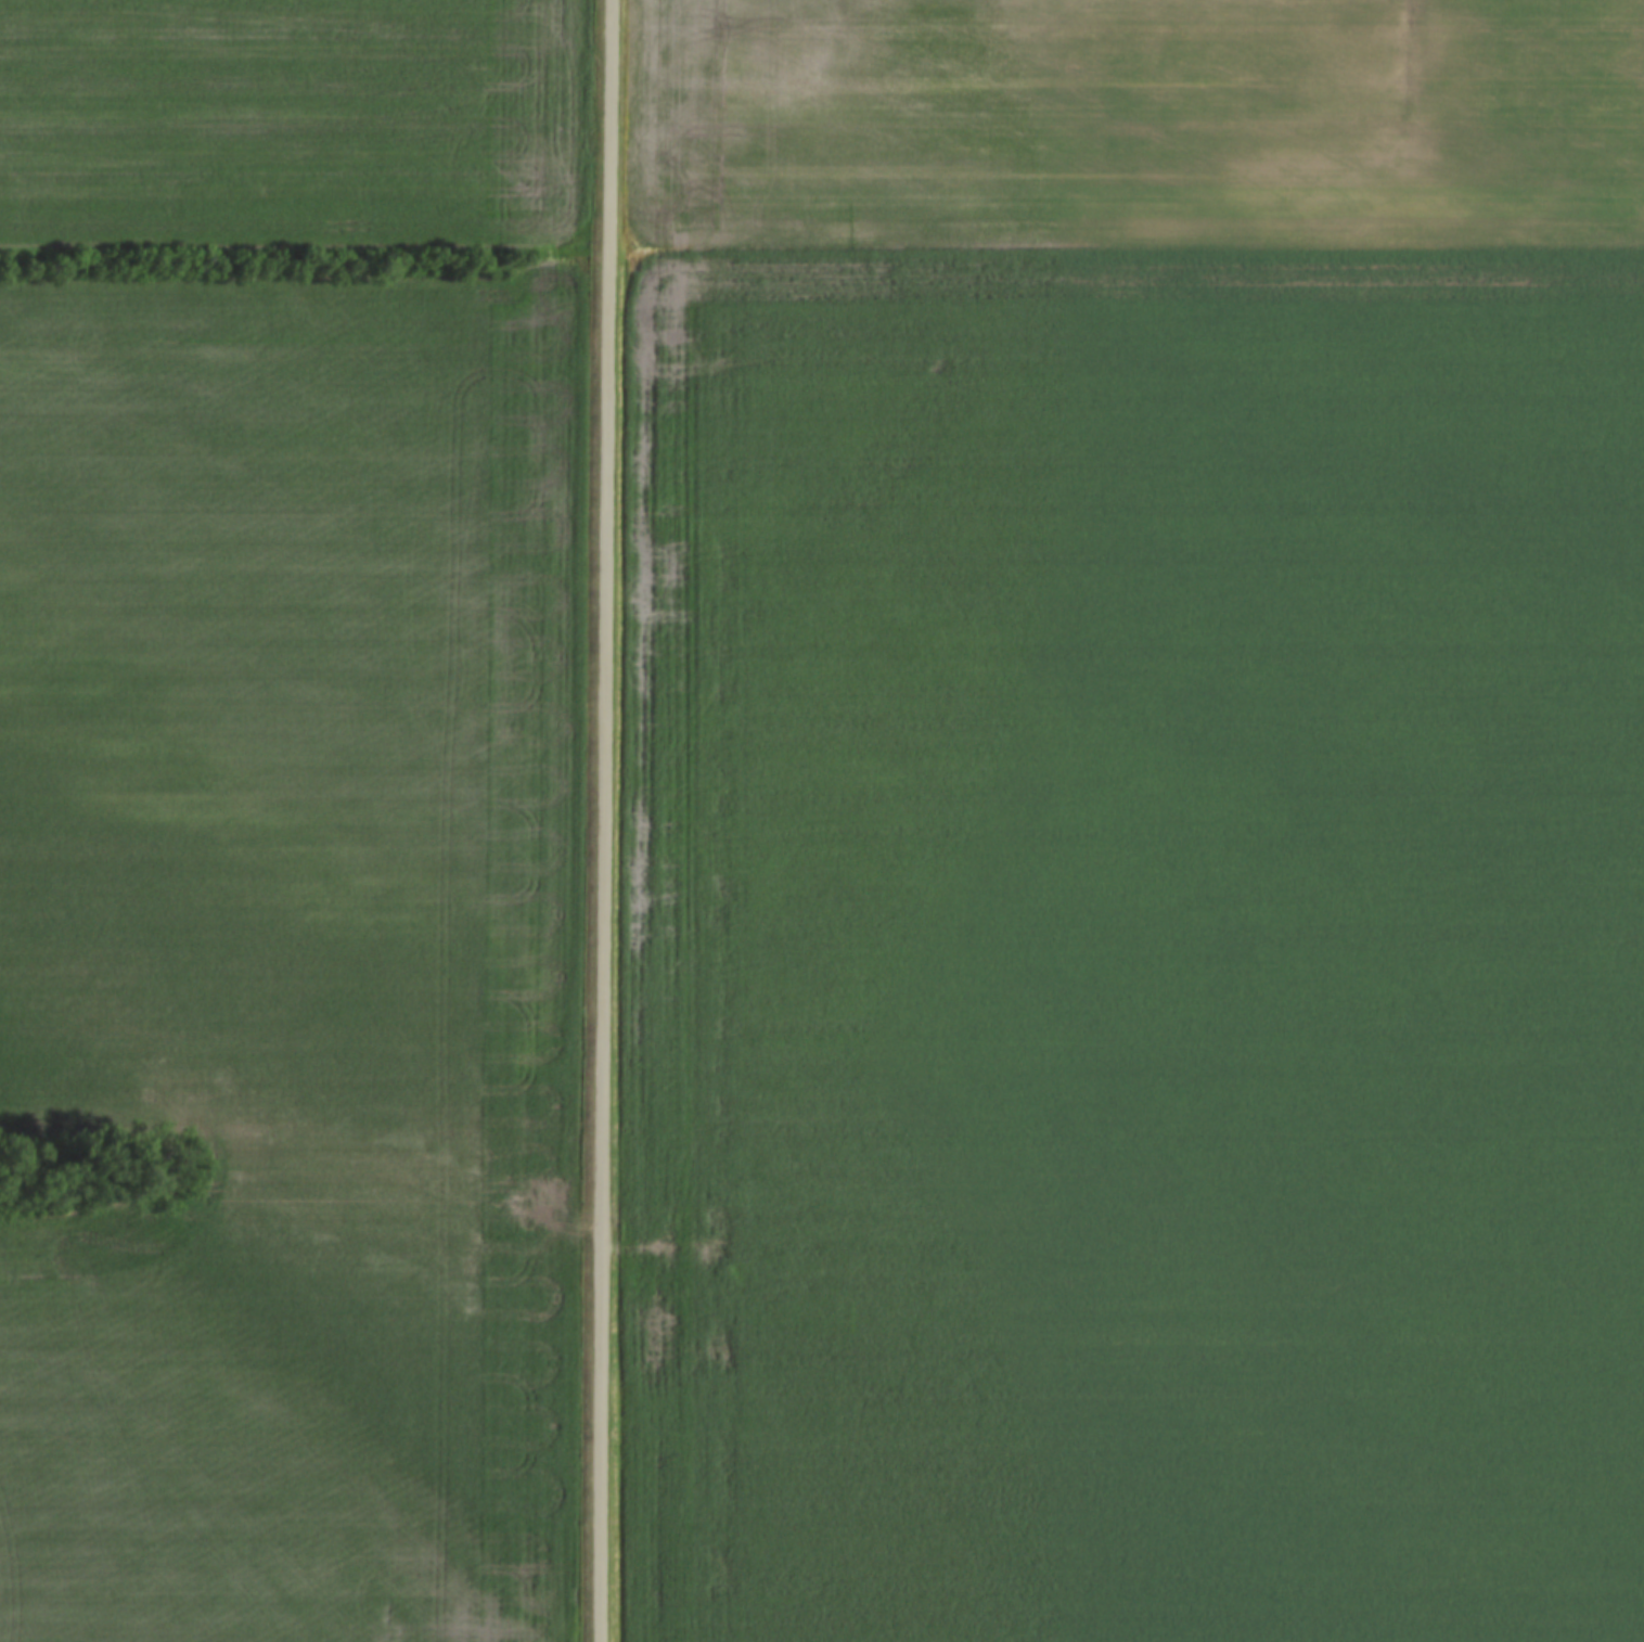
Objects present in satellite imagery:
road: (602, 820)

